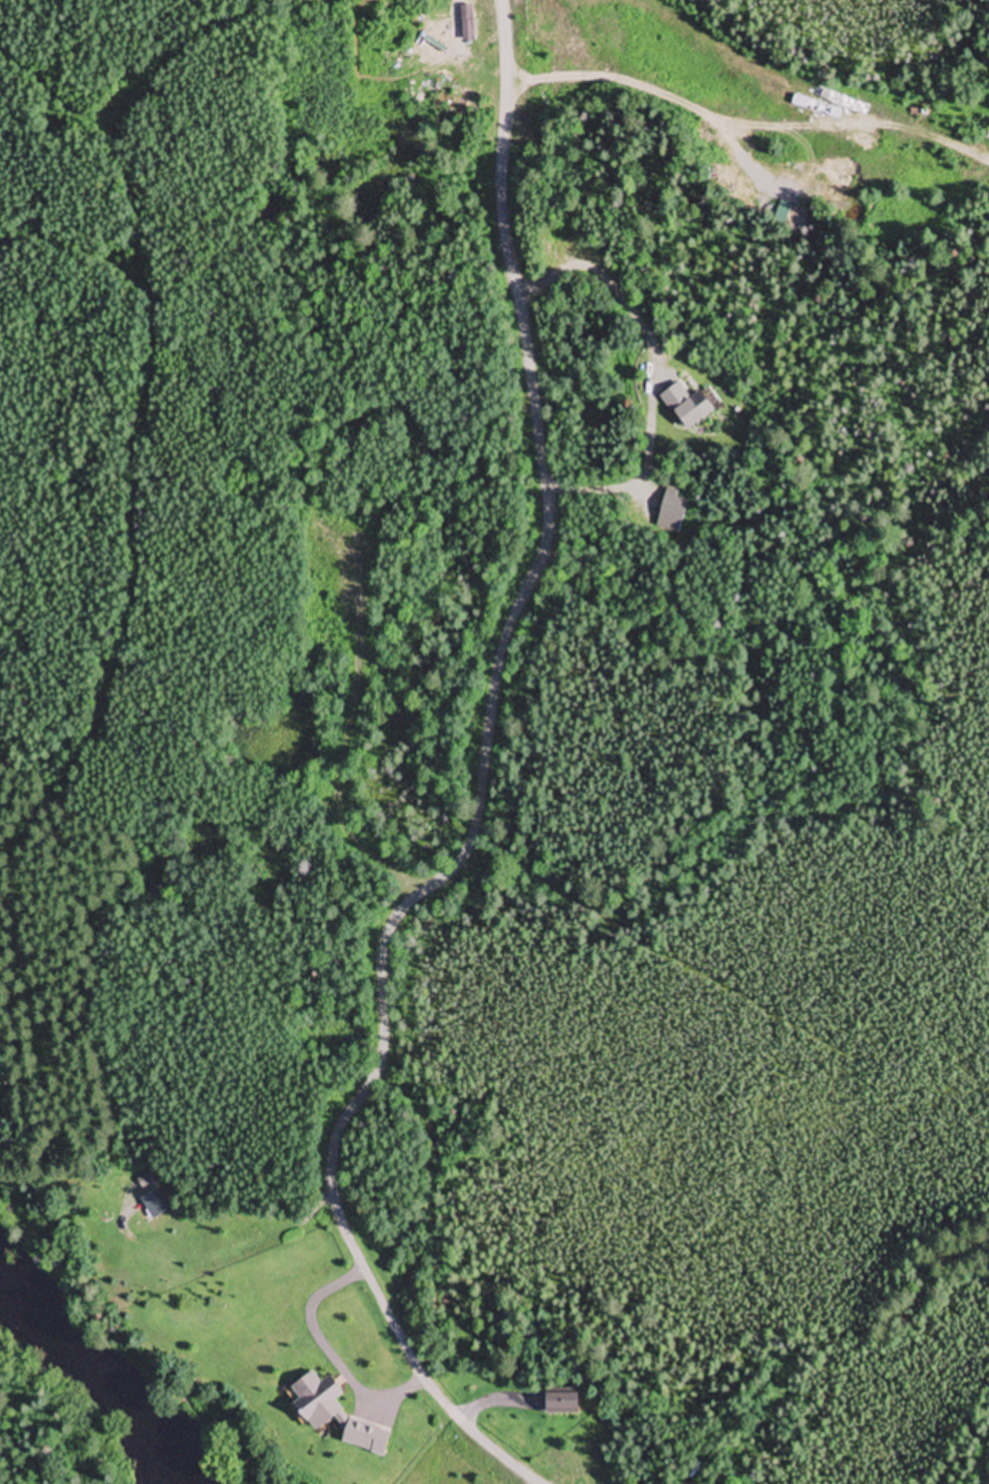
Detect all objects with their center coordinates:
quarry: (152, 98)
road: (747, 122)
building: (687, 406)
road: (482, 798)
building: (155, 1204)
building: (172, 1311)
river: (86, 1382)

